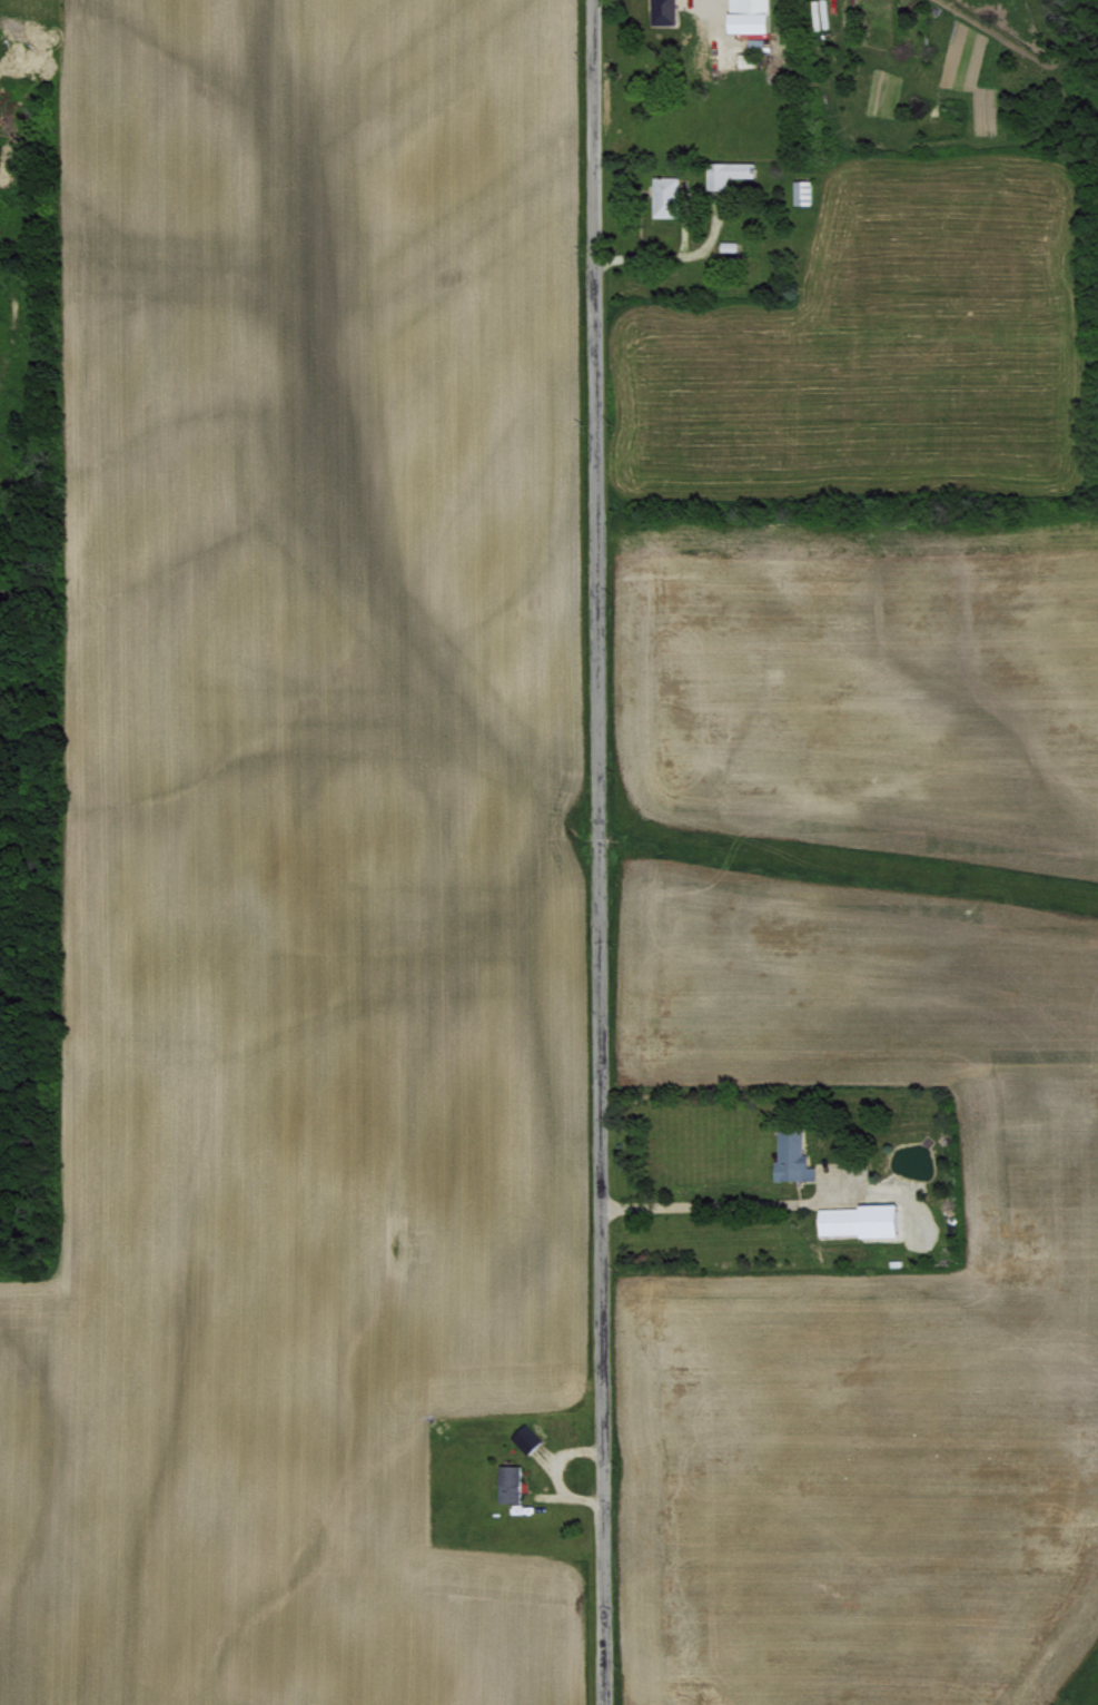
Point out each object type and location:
building: (662, 10)
building: (749, 16)
building: (725, 173)
building: (801, 191)
building: (664, 196)
road: (685, 255)
road: (596, 852)
building: (791, 1155)
road: (732, 1202)
building: (859, 1220)
building: (525, 1437)
road: (556, 1471)
building: (508, 1482)

